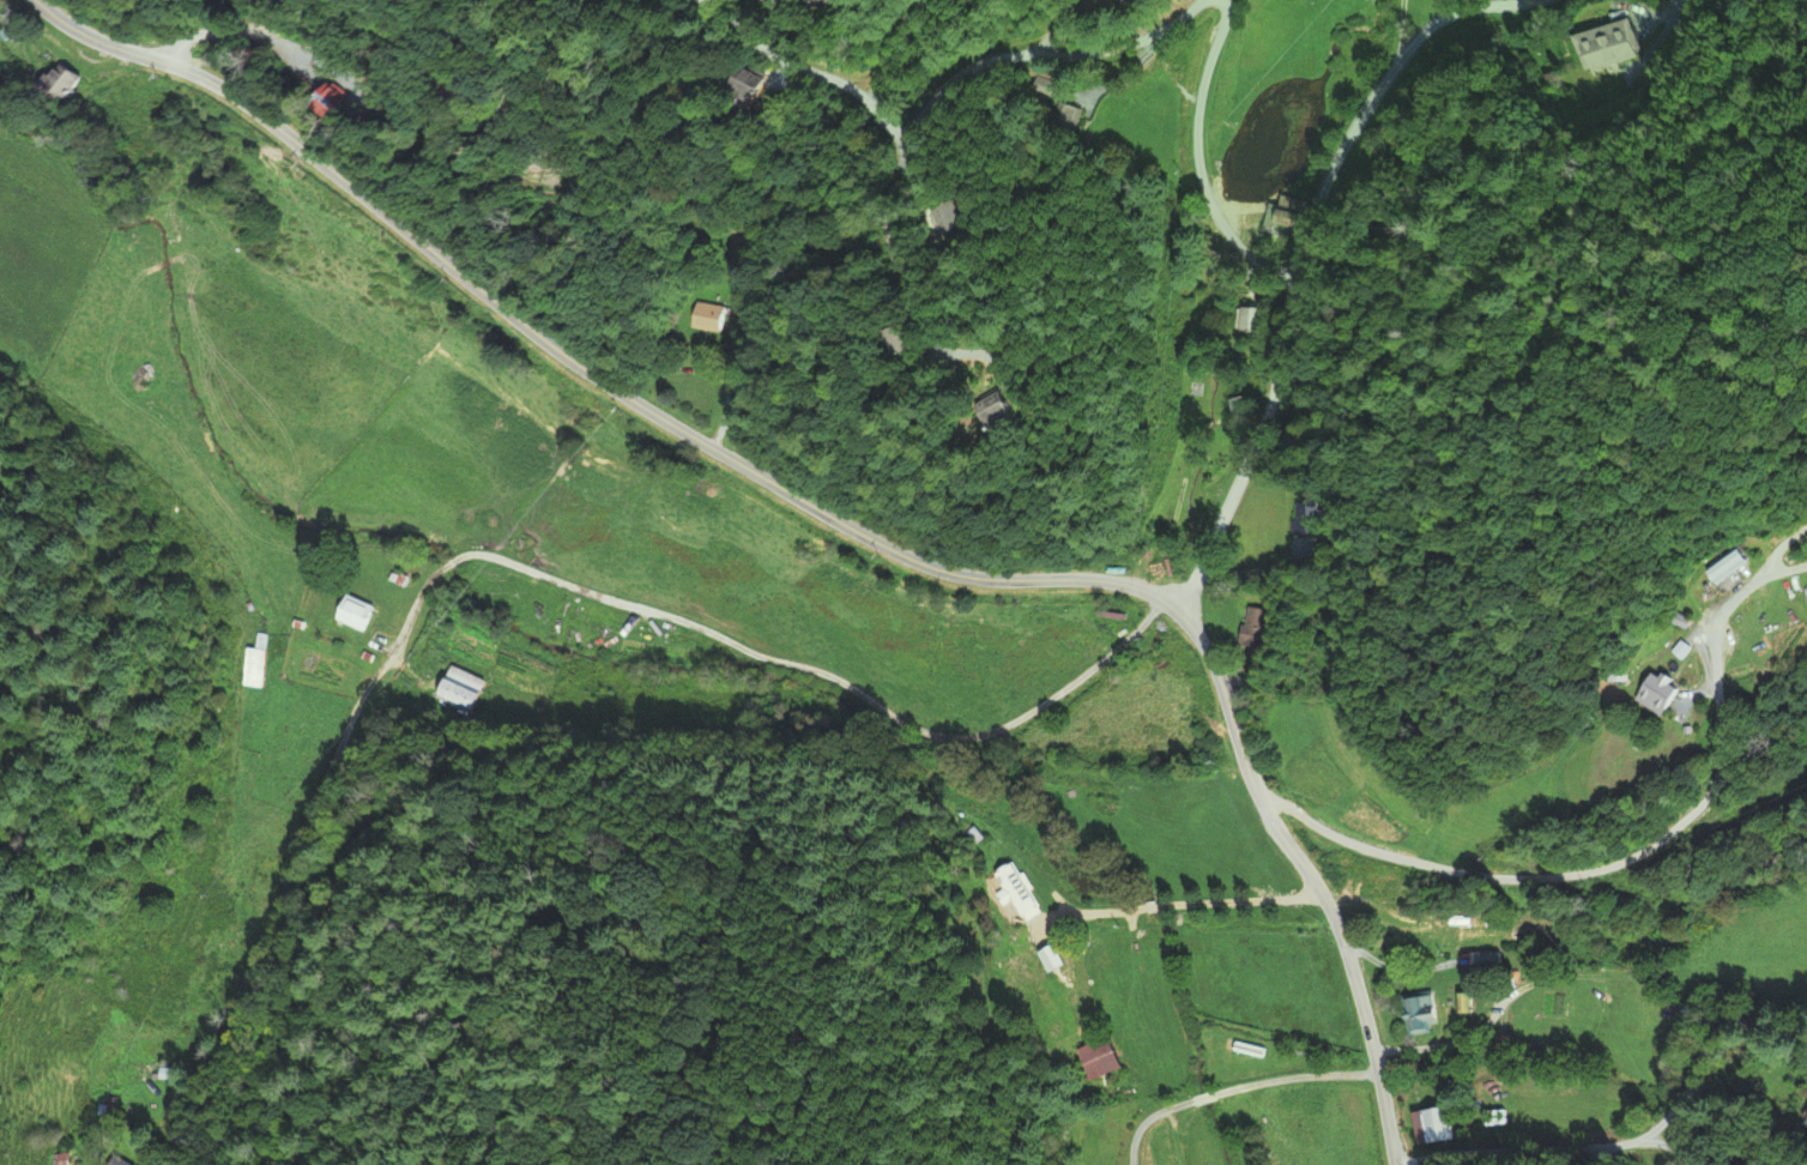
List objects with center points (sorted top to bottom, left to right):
building: (1137, 1)
building: (826, 2)
road: (1062, 24)
road: (223, 30)
road: (1398, 34)
building: (1591, 47)
road: (1044, 54)
road: (1125, 68)
road: (342, 76)
building: (65, 82)
building: (336, 98)
road: (905, 156)
road: (1196, 157)
road: (1299, 259)
building: (1241, 321)
building: (709, 324)
road: (836, 520)
road: (448, 562)
building: (1726, 568)
building: (363, 612)
building: (1243, 629)
building: (256, 663)
road: (828, 677)
building: (465, 689)
building: (1650, 694)
road: (294, 849)
road: (1644, 851)
building: (1016, 897)
road: (1190, 903)
building: (1485, 973)
building: (1410, 1014)
building: (1250, 1049)
building: (1102, 1057)
road: (1295, 1078)
road: (1203, 1098)
building: (1801, 1111)
road: (1146, 1119)
building: (1440, 1125)
road: (1634, 1140)
road: (1672, 1148)
building: (60, 1159)
building: (120, 1161)

